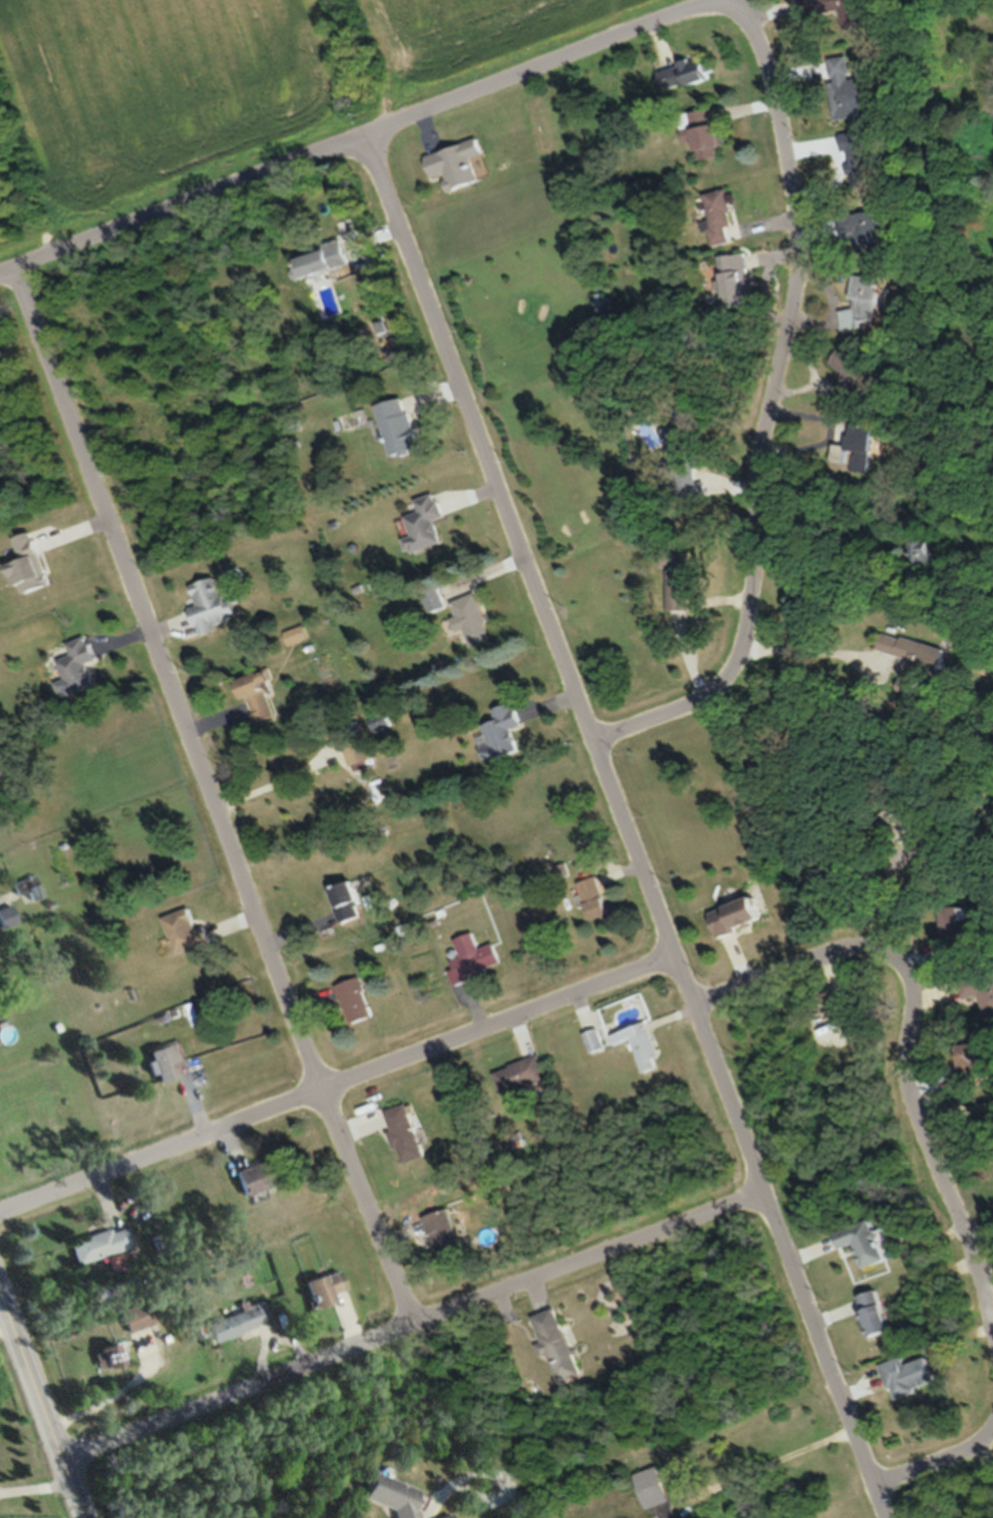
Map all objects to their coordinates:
building: (851, 11)
building: (688, 72)
crop: (225, 86)
building: (852, 90)
road: (354, 131)
building: (704, 132)
building: (864, 157)
building: (457, 163)
building: (720, 216)
building: (866, 230)
building: (320, 257)
building: (739, 278)
building: (603, 301)
building: (870, 302)
building: (855, 375)
road: (773, 406)
building: (398, 427)
building: (682, 429)
building: (861, 447)
building: (426, 523)
building: (32, 564)
building: (680, 578)
building: (212, 604)
building: (470, 617)
building: (297, 634)
building: (917, 657)
building: (79, 666)
building: (258, 695)
building: (381, 720)
building: (503, 732)
building: (356, 751)
road: (212, 797)
road: (623, 823)
building: (29, 887)
building: (596, 896)
building: (349, 899)
building: (743, 914)
building: (6, 915)
building: (958, 925)
building: (188, 930)
building: (477, 956)
building: (979, 986)
building: (358, 999)
building: (594, 1040)
building: (643, 1043)
road: (908, 1047)
building: (168, 1058)
building: (521, 1073)
road: (337, 1088)
building: (409, 1132)
building: (262, 1173)
building: (447, 1236)
building: (869, 1241)
building: (99, 1243)
building: (325, 1286)
building: (883, 1311)
building: (136, 1315)
building: (236, 1320)
road: (413, 1329)
building: (558, 1342)
building: (109, 1356)
building: (912, 1374)
road: (40, 1411)
road: (938, 1467)
building: (660, 1493)
building: (396, 1494)
building: (445, 1516)

